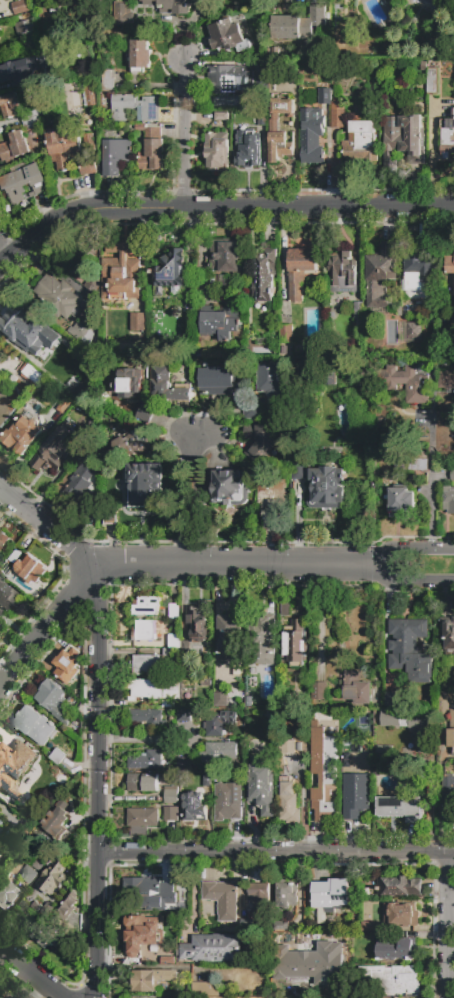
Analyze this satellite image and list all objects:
building: (171, 6)
building: (20, 7)
building: (58, 12)
building: (80, 13)
building: (123, 13)
building: (258, 17)
building: (299, 24)
building: (25, 27)
building: (226, 35)
building: (140, 55)
building: (416, 72)
building: (7, 76)
building: (232, 78)
building: (108, 80)
building: (431, 81)
building: (33, 82)
building: (261, 82)
building: (324, 96)
building: (91, 97)
building: (10, 104)
building: (122, 106)
building: (150, 109)
building: (337, 114)
building: (221, 116)
building: (261, 118)
building: (35, 119)
building: (278, 131)
road: (185, 133)
building: (312, 136)
building: (447, 140)
building: (401, 141)
building: (89, 142)
building: (360, 142)
building: (62, 146)
building: (151, 147)
building: (13, 148)
building: (247, 148)
building: (217, 151)
building: (116, 155)
building: (87, 166)
building: (24, 180)
road: (320, 207)
road: (83, 212)
building: (223, 256)
road: (1, 262)
building: (85, 263)
building: (449, 265)
building: (171, 269)
building: (299, 271)
building: (121, 272)
building: (342, 273)
building: (420, 273)
building: (265, 276)
building: (381, 276)
building: (91, 285)
building: (57, 296)
building: (358, 316)
building: (138, 323)
building: (188, 323)
building: (220, 325)
building: (156, 327)
building: (27, 331)
building: (413, 331)
building: (287, 334)
building: (83, 335)
building: (447, 380)
building: (30, 381)
building: (217, 382)
building: (406, 383)
building: (127, 384)
building: (166, 386)
building: (273, 386)
building: (81, 394)
building: (63, 406)
building: (146, 414)
building: (253, 414)
building: (382, 425)
road: (200, 433)
building: (21, 435)
building: (89, 437)
building: (260, 441)
building: (136, 444)
building: (53, 451)
building: (309, 452)
building: (410, 465)
building: (297, 472)
building: (452, 475)
building: (146, 484)
building: (328, 484)
building: (80, 485)
road: (431, 486)
building: (230, 487)
road: (183, 499)
road: (196, 499)
building: (272, 499)
building: (448, 499)
building: (402, 500)
road: (47, 528)
building: (3, 539)
road: (412, 551)
road: (156, 565)
building: (23, 566)
road: (411, 583)
building: (8, 597)
building: (146, 606)
building: (284, 610)
building: (174, 611)
building: (197, 624)
building: (146, 630)
building: (448, 636)
building: (230, 637)
building: (265, 638)
building: (174, 641)
building: (295, 643)
building: (185, 647)
building: (411, 650)
building: (169, 652)
building: (146, 664)
building: (67, 666)
building: (205, 683)
building: (357, 688)
building: (156, 690)
building: (320, 693)
building: (391, 699)
building: (220, 700)
building: (54, 701)
building: (183, 715)
building: (147, 718)
building: (218, 722)
building: (34, 726)
building: (409, 726)
building: (450, 731)
road: (133, 738)
building: (287, 748)
building: (384, 751)
building: (219, 753)
building: (58, 756)
building: (37, 758)
building: (146, 760)
building: (8, 763)
building: (184, 765)
building: (323, 774)
building: (207, 780)
road: (98, 782)
building: (143, 783)
building: (261, 788)
building: (171, 796)
building: (356, 797)
building: (449, 798)
building: (227, 802)
building: (288, 802)
building: (194, 806)
building: (399, 806)
building: (170, 814)
building: (143, 817)
building: (57, 819)
building: (0, 845)
road: (276, 855)
building: (39, 864)
building: (28, 874)
building: (53, 877)
road: (299, 886)
building: (399, 887)
building: (149, 890)
building: (6, 893)
building: (285, 894)
building: (332, 895)
building: (258, 896)
building: (222, 899)
building: (69, 908)
building: (400, 915)
building: (247, 926)
road: (447, 926)
building: (370, 927)
building: (282, 928)
building: (39, 933)
building: (141, 933)
building: (278, 946)
building: (147, 949)
building: (213, 949)
building: (398, 950)
building: (305, 967)
road: (25, 976)
building: (243, 977)
building: (398, 979)
building: (146, 981)
building: (277, 985)
building: (205, 990)
building: (2, 996)

